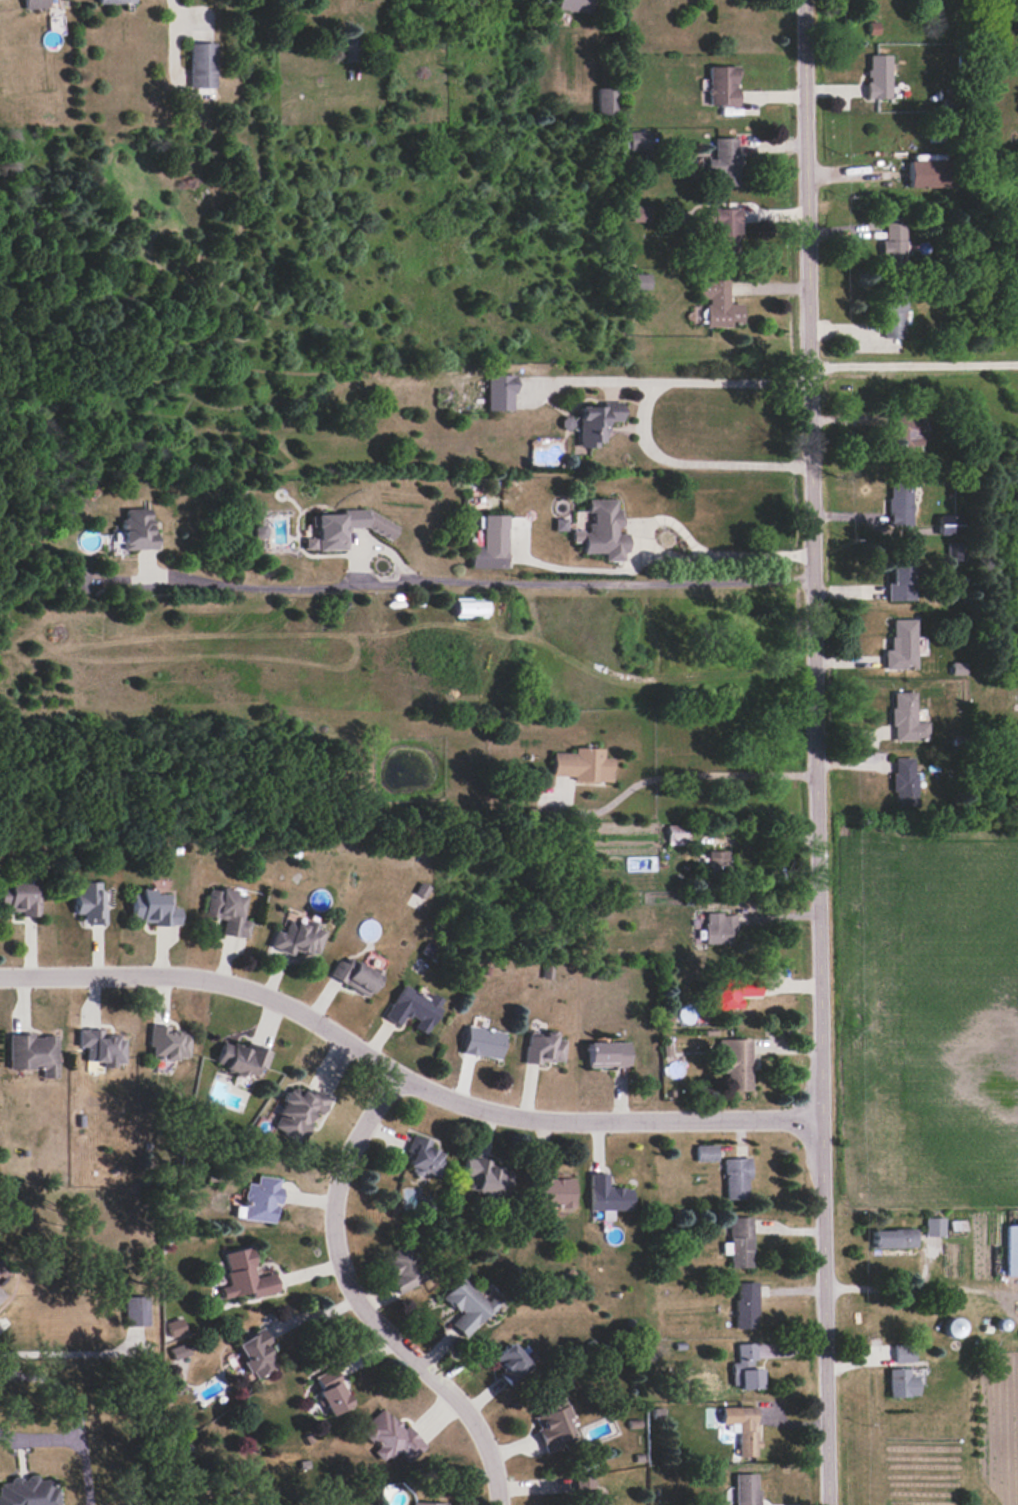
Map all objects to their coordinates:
building: (116, 1)
building: (34, 4)
building: (573, 5)
building: (350, 50)
building: (200, 63)
building: (878, 77)
building: (721, 86)
building: (606, 101)
building: (639, 140)
building: (723, 162)
building: (927, 173)
building: (640, 213)
building: (724, 229)
building: (893, 243)
building: (640, 281)
building: (718, 304)
building: (893, 317)
road: (912, 364)
building: (499, 392)
road: (639, 420)
building: (595, 422)
building: (906, 433)
building: (899, 503)
building: (560, 524)
building: (949, 524)
building: (344, 528)
building: (136, 529)
building: (602, 530)
building: (260, 531)
road: (691, 541)
building: (490, 544)
building: (900, 580)
building: (79, 583)
road: (494, 589)
building: (469, 607)
building: (900, 645)
building: (957, 668)
building: (906, 718)
road: (814, 752)
building: (581, 764)
road: (678, 774)
building: (903, 781)
building: (675, 834)
building: (717, 861)
building: (21, 898)
building: (90, 902)
building: (154, 908)
building: (228, 911)
building: (298, 937)
building: (355, 976)
building: (731, 991)
building: (413, 1008)
building: (482, 1042)
building: (168, 1043)
building: (103, 1047)
building: (544, 1048)
building: (34, 1053)
building: (607, 1054)
building: (243, 1059)
building: (734, 1062)
road: (398, 1078)
building: (298, 1111)
building: (706, 1153)
building: (424, 1158)
building: (484, 1175)
building: (736, 1178)
building: (554, 1191)
building: (608, 1196)
building: (259, 1199)
building: (934, 1226)
building: (892, 1238)
building: (739, 1242)
building: (1012, 1249)
building: (403, 1269)
building: (244, 1275)
building: (1, 1294)
road: (916, 1295)
road: (363, 1305)
building: (466, 1305)
building: (746, 1305)
building: (137, 1310)
building: (174, 1327)
building: (953, 1327)
building: (179, 1350)
building: (903, 1353)
building: (256, 1354)
road: (70, 1359)
building: (511, 1363)
building: (745, 1366)
building: (901, 1383)
building: (331, 1391)
building: (552, 1424)
building: (742, 1427)
building: (391, 1437)
road: (38, 1440)
building: (746, 1489)
building: (28, 1491)
building: (590, 1497)
building: (426, 1503)

